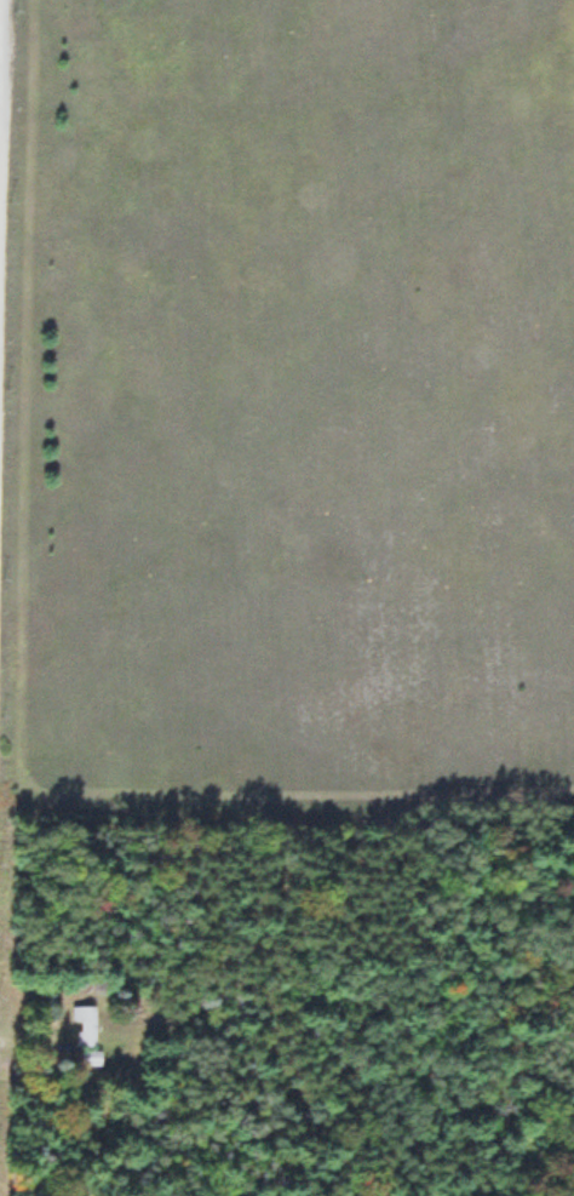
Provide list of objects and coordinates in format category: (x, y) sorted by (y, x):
building: (84, 1025)

